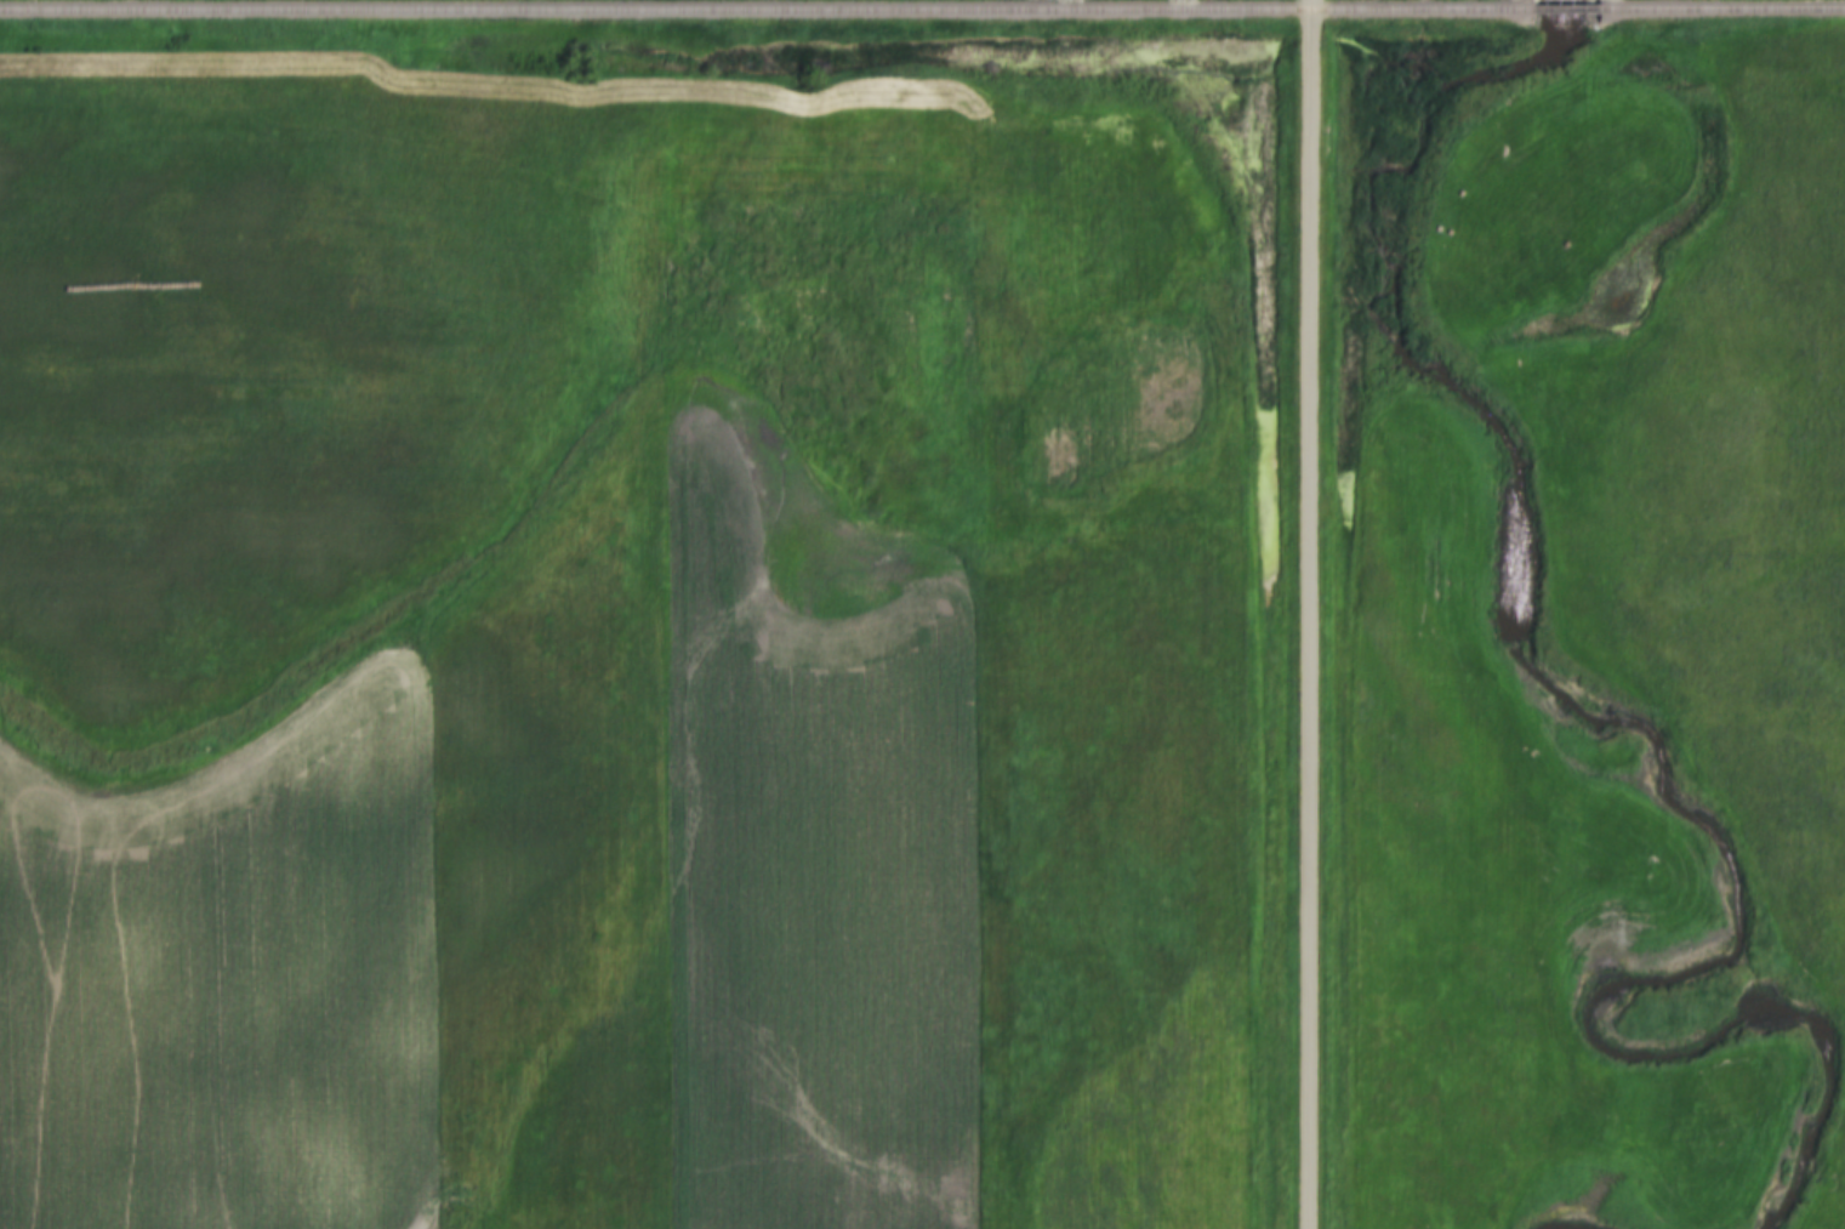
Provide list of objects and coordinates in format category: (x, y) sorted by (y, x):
railway: (1719, 8)
railway: (762, 10)
railway: (1559, 10)
road: (1303, 614)

